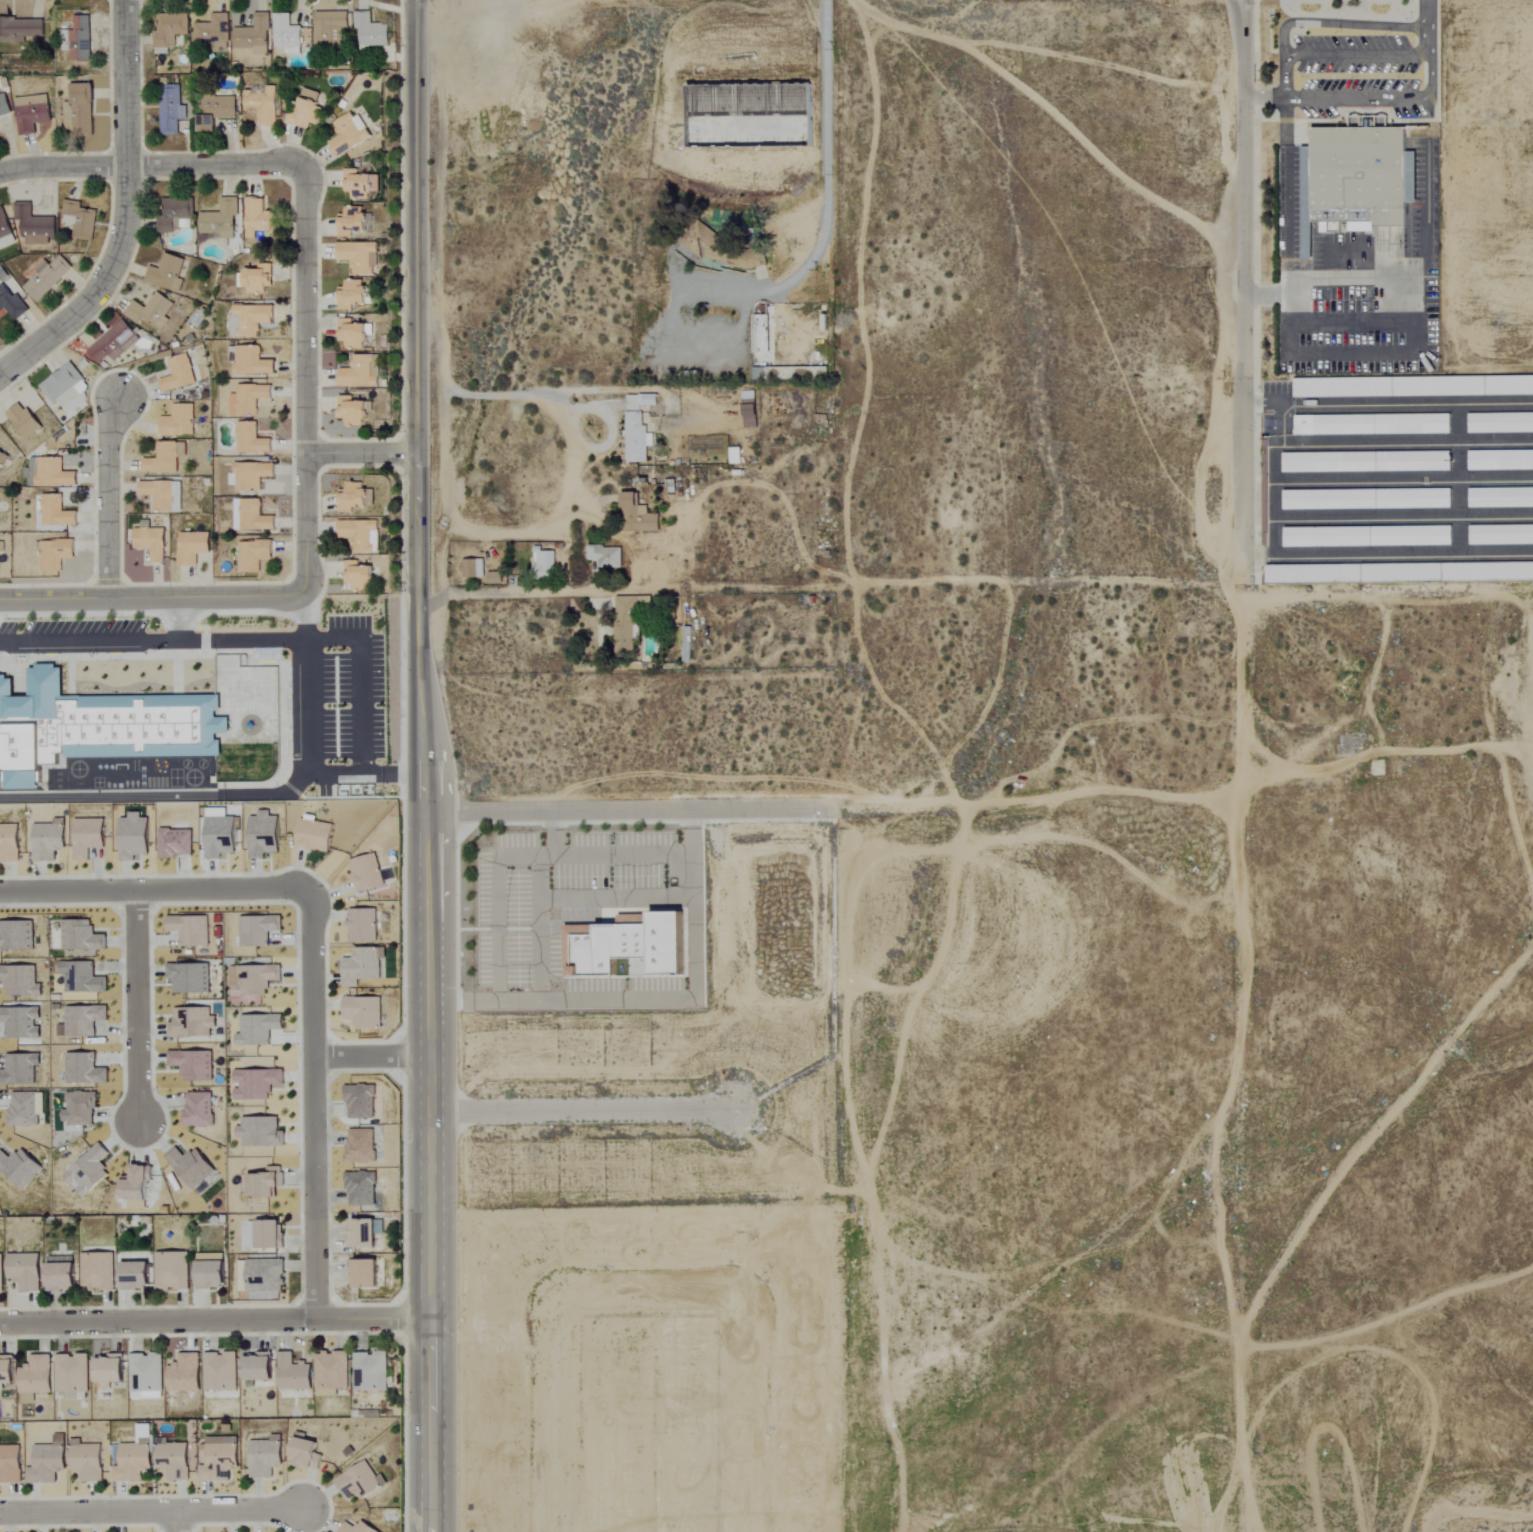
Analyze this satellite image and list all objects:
road: (1427, 14)
road: (1323, 22)
building: (328, 28)
building: (19, 29)
building: (168, 29)
building: (369, 32)
building: (210, 33)
building: (284, 34)
building: (251, 35)
building: (79, 38)
road: (1428, 42)
road: (1356, 57)
road: (1429, 76)
road: (1283, 94)
road: (1262, 99)
road: (1356, 99)
building: (4, 104)
building: (261, 105)
building: (170, 109)
building: (80, 110)
building: (304, 110)
building: (214, 112)
building: (30, 113)
building: (66, 116)
road: (1056, 116)
building: (347, 134)
road: (150, 164)
building: (1359, 177)
building: (355, 185)
road: (1285, 187)
road: (828, 199)
building: (172, 215)
road: (122, 216)
building: (256, 218)
building: (77, 220)
building: (217, 221)
building: (352, 222)
building: (32, 225)
building: (4, 232)
building: (357, 257)
building: (164, 273)
road: (1391, 275)
building: (45, 277)
building: (255, 280)
road: (1248, 285)
building: (351, 295)
building: (10, 304)
building: (148, 311)
building: (246, 320)
road: (1352, 322)
building: (349, 334)
building: (758, 334)
building: (111, 343)
road: (1359, 354)
building: (247, 362)
building: (357, 373)
building: (177, 374)
road: (307, 378)
building: (1341, 388)
building: (63, 389)
building: (248, 398)
building: (639, 401)
building: (747, 409)
building: (349, 411)
building: (20, 421)
building: (177, 421)
building: (1499, 423)
building: (1370, 425)
building: (634, 439)
building: (248, 440)
road: (360, 451)
building: (2, 457)
building: (163, 458)
road: (573, 458)
road: (442, 459)
building: (1499, 460)
building: (1365, 462)
building: (51, 474)
building: (248, 475)
road: (113, 494)
building: (160, 495)
building: (353, 497)
building: (1500, 498)
building: (1411, 499)
building: (1327, 500)
building: (53, 512)
building: (636, 514)
building: (248, 516)
building: (359, 535)
building: (1500, 535)
building: (1365, 537)
building: (148, 542)
building: (1, 546)
building: (189, 548)
building: (52, 554)
building: (250, 555)
building: (603, 556)
building: (542, 562)
building: (470, 569)
building: (355, 577)
building: (492, 578)
road: (151, 591)
road: (517, 594)
road: (304, 614)
road: (178, 615)
building: (624, 624)
road: (152, 640)
building: (96, 726)
road: (426, 765)
road: (360, 769)
road: (393, 770)
road: (159, 796)
road: (1037, 800)
road: (633, 812)
building: (260, 834)
building: (310, 834)
building: (130, 836)
building: (84, 837)
building: (45, 840)
building: (7, 842)
building: (173, 843)
road: (621, 858)
building: (364, 872)
road: (153, 895)
road: (613, 898)
road: (534, 900)
road: (495, 909)
building: (360, 925)
building: (188, 929)
building: (255, 929)
building: (15, 935)
building: (78, 936)
building: (622, 946)
building: (360, 966)
building: (186, 977)
building: (83, 978)
building: (253, 979)
building: (18, 981)
road: (655, 1000)
road: (133, 1006)
building: (360, 1011)
building: (81, 1019)
building: (18, 1022)
building: (189, 1022)
building: (255, 1029)
road: (1234, 1054)
road: (371, 1057)
building: (190, 1064)
building: (16, 1065)
building: (81, 1069)
building: (253, 1083)
building: (358, 1101)
road: (315, 1107)
building: (21, 1109)
building: (77, 1109)
building: (195, 1109)
road: (577, 1115)
building: (257, 1132)
building: (187, 1166)
building: (18, 1168)
building: (85, 1170)
building: (261, 1183)
building: (131, 1187)
building: (264, 1234)
building: (207, 1270)
building: (22, 1271)
building: (57, 1271)
building: (96, 1271)
building: (170, 1271)
building: (361, 1273)
building: (131, 1275)
building: (262, 1275)
road: (212, 1322)
building: (4, 1369)
building: (105, 1369)
building: (253, 1369)
building: (217, 1371)
building: (368, 1371)
building: (144, 1373)
building: (290, 1373)
building: (328, 1373)
building: (181, 1374)
building: (69, 1375)
building: (32, 1378)
building: (0, 1389)
building: (301, 1454)
building: (262, 1457)
building: (170, 1460)
building: (84, 1461)
building: (130, 1461)
building: (44, 1463)
building: (9, 1464)
building: (357, 1481)
road: (151, 1512)
road: (178, 1522)
building: (353, 1528)

